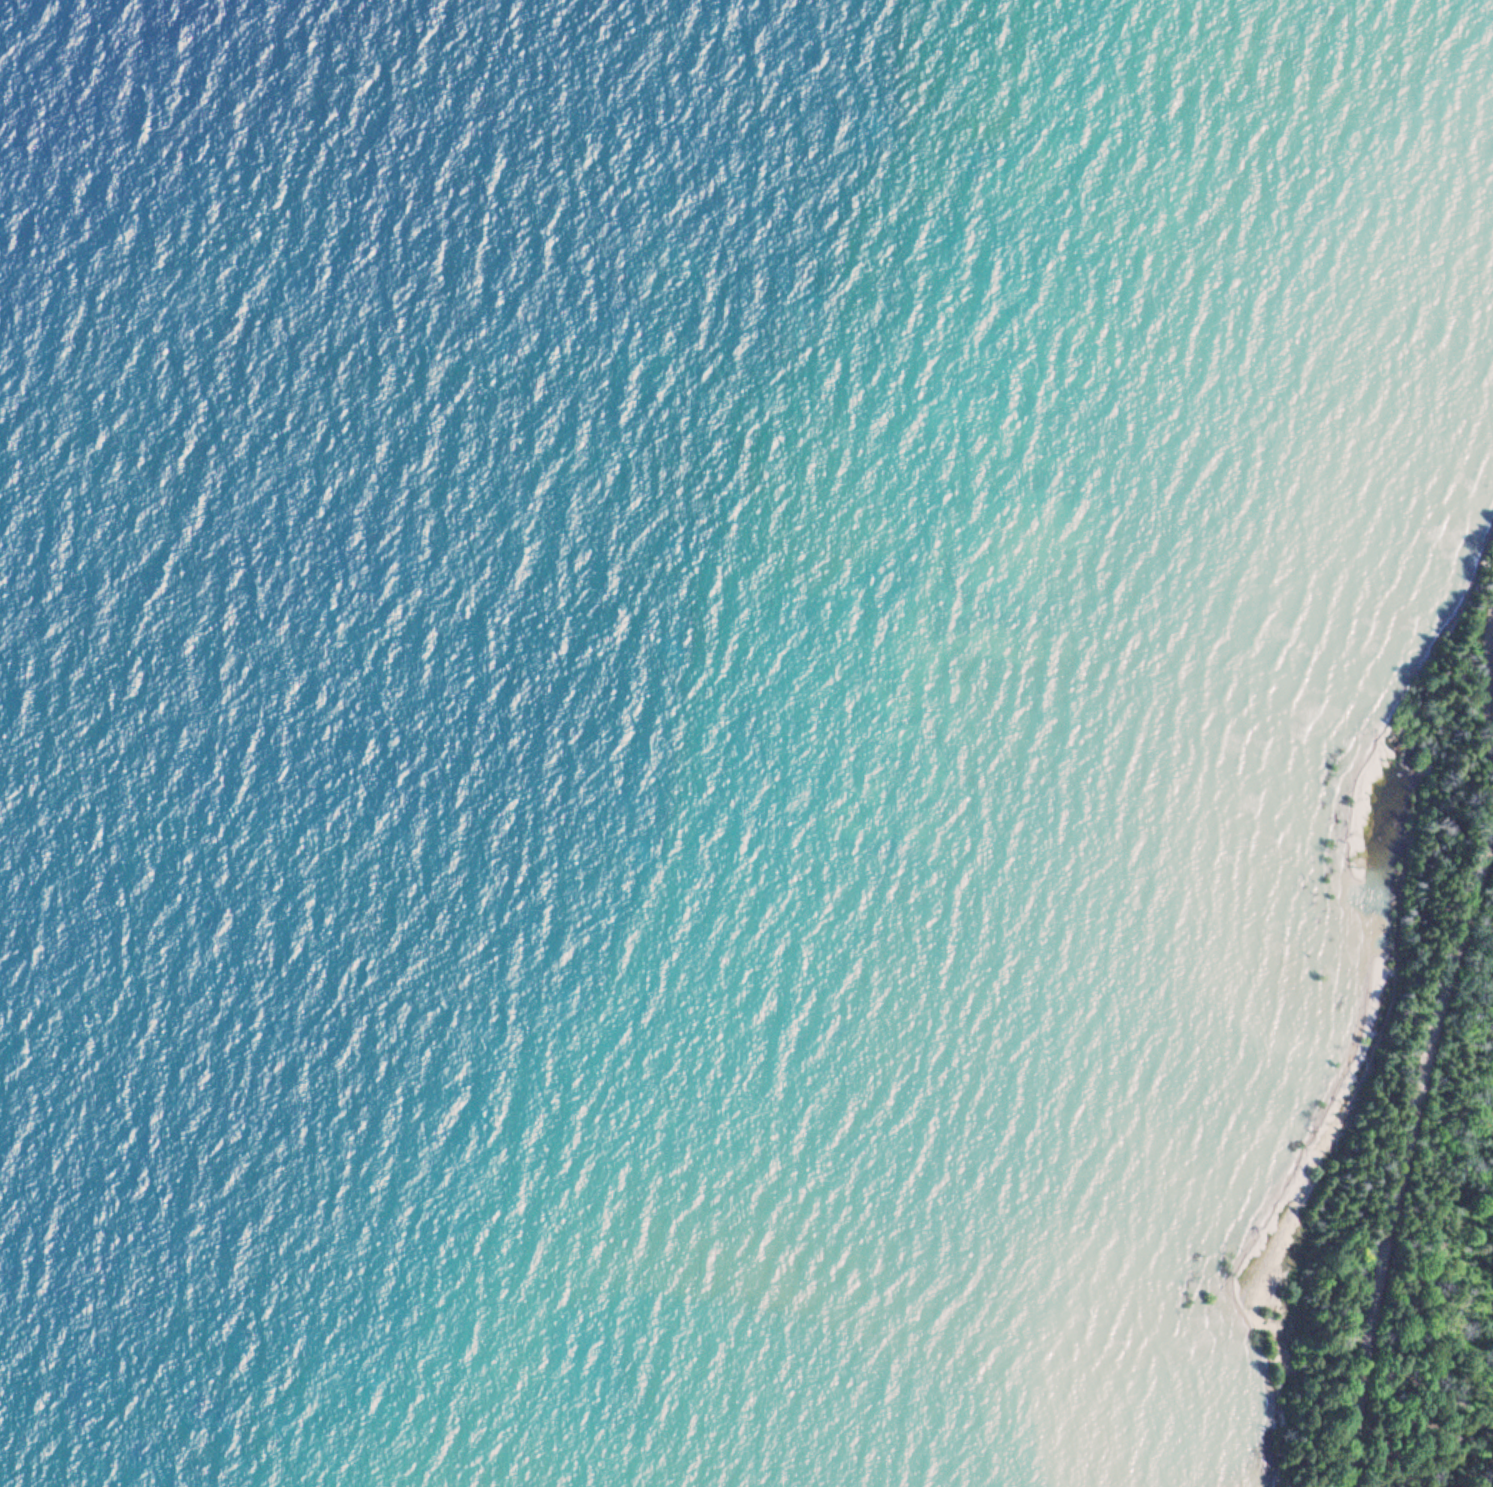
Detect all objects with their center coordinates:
road: (1486, 695)
park: (1321, 1012)
road: (1405, 1143)

